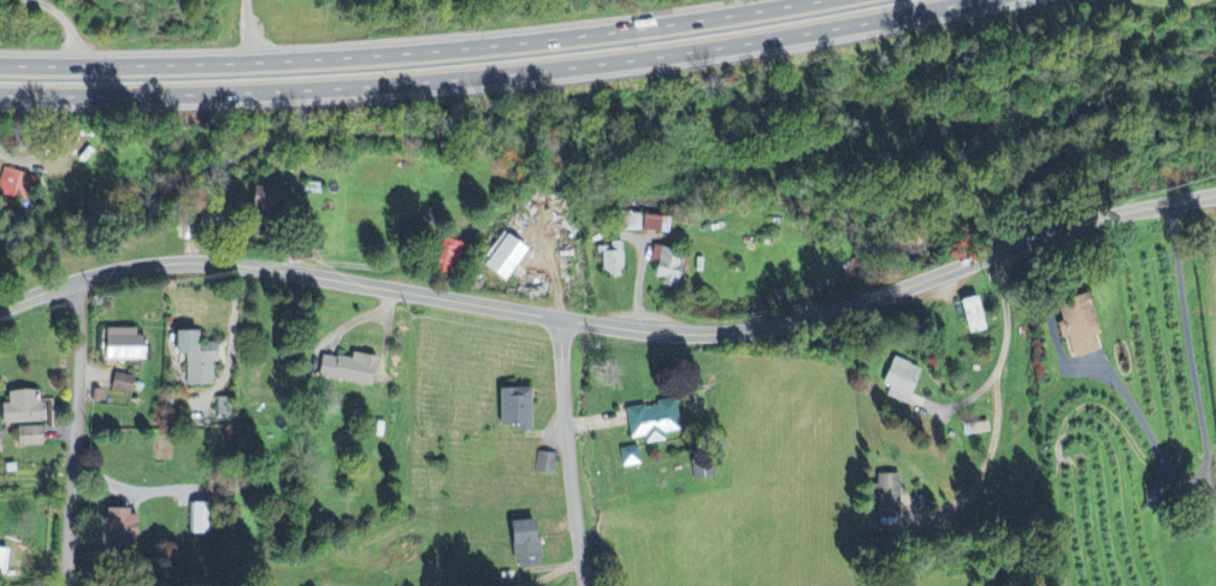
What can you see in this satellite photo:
road: (64, 18)
road: (255, 25)
road: (401, 40)
road: (501, 78)
building: (16, 184)
building: (260, 199)
building: (645, 224)
building: (418, 229)
building: (504, 258)
building: (613, 260)
building: (669, 268)
road: (1008, 314)
road: (610, 325)
building: (1076, 325)
road: (337, 341)
building: (123, 345)
building: (196, 357)
building: (348, 369)
building: (902, 380)
building: (123, 384)
building: (223, 407)
building: (22, 408)
building: (515, 408)
building: (654, 421)
road: (1205, 425)
road: (73, 434)
building: (30, 437)
road: (565, 451)
building: (632, 457)
building: (547, 464)
building: (703, 469)
road: (986, 473)
building: (886, 497)
building: (202, 519)
building: (119, 527)
building: (525, 545)
building: (2, 561)
road: (551, 575)
park: (114, 576)

